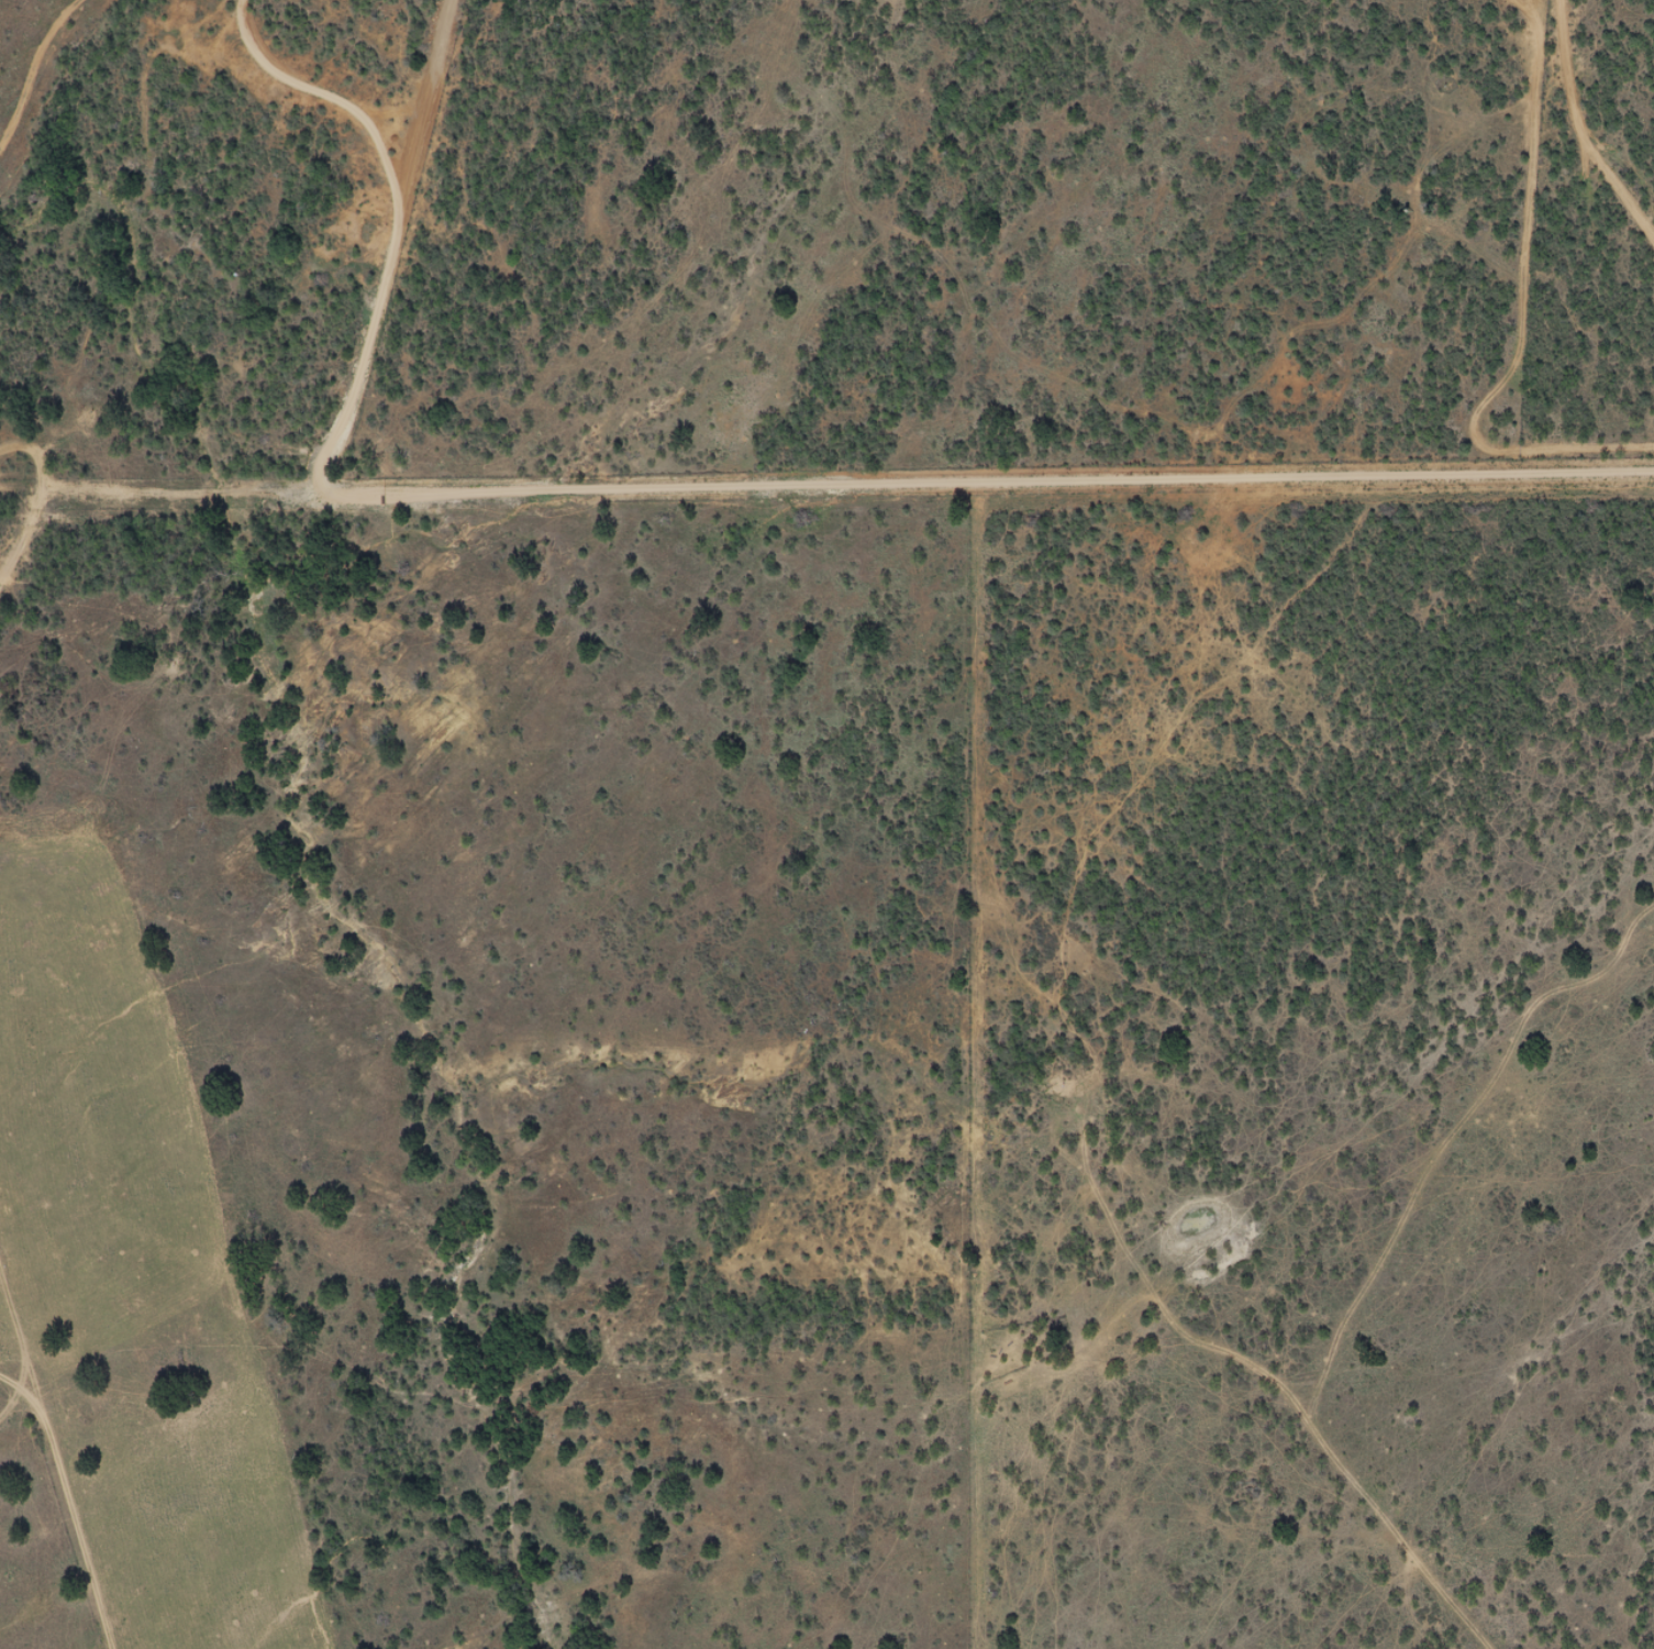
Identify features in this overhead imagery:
road: (1597, 121)
road: (133, 314)
road: (22, 1382)
road: (55, 1421)

